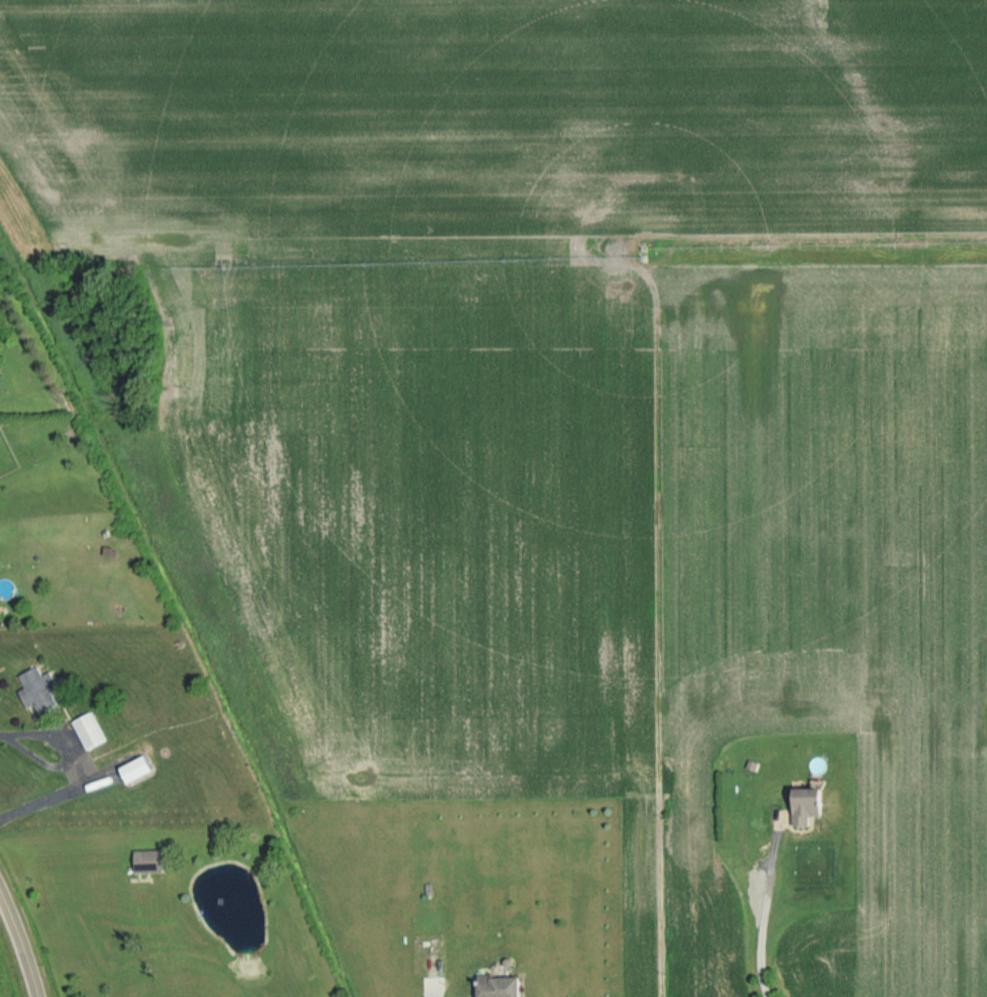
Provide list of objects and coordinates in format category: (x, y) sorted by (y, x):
building: (0, 610)
building: (37, 689)
building: (88, 731)
road: (77, 769)
building: (137, 769)
building: (808, 805)
building: (148, 860)
road: (766, 907)
road: (21, 943)
building: (502, 987)

